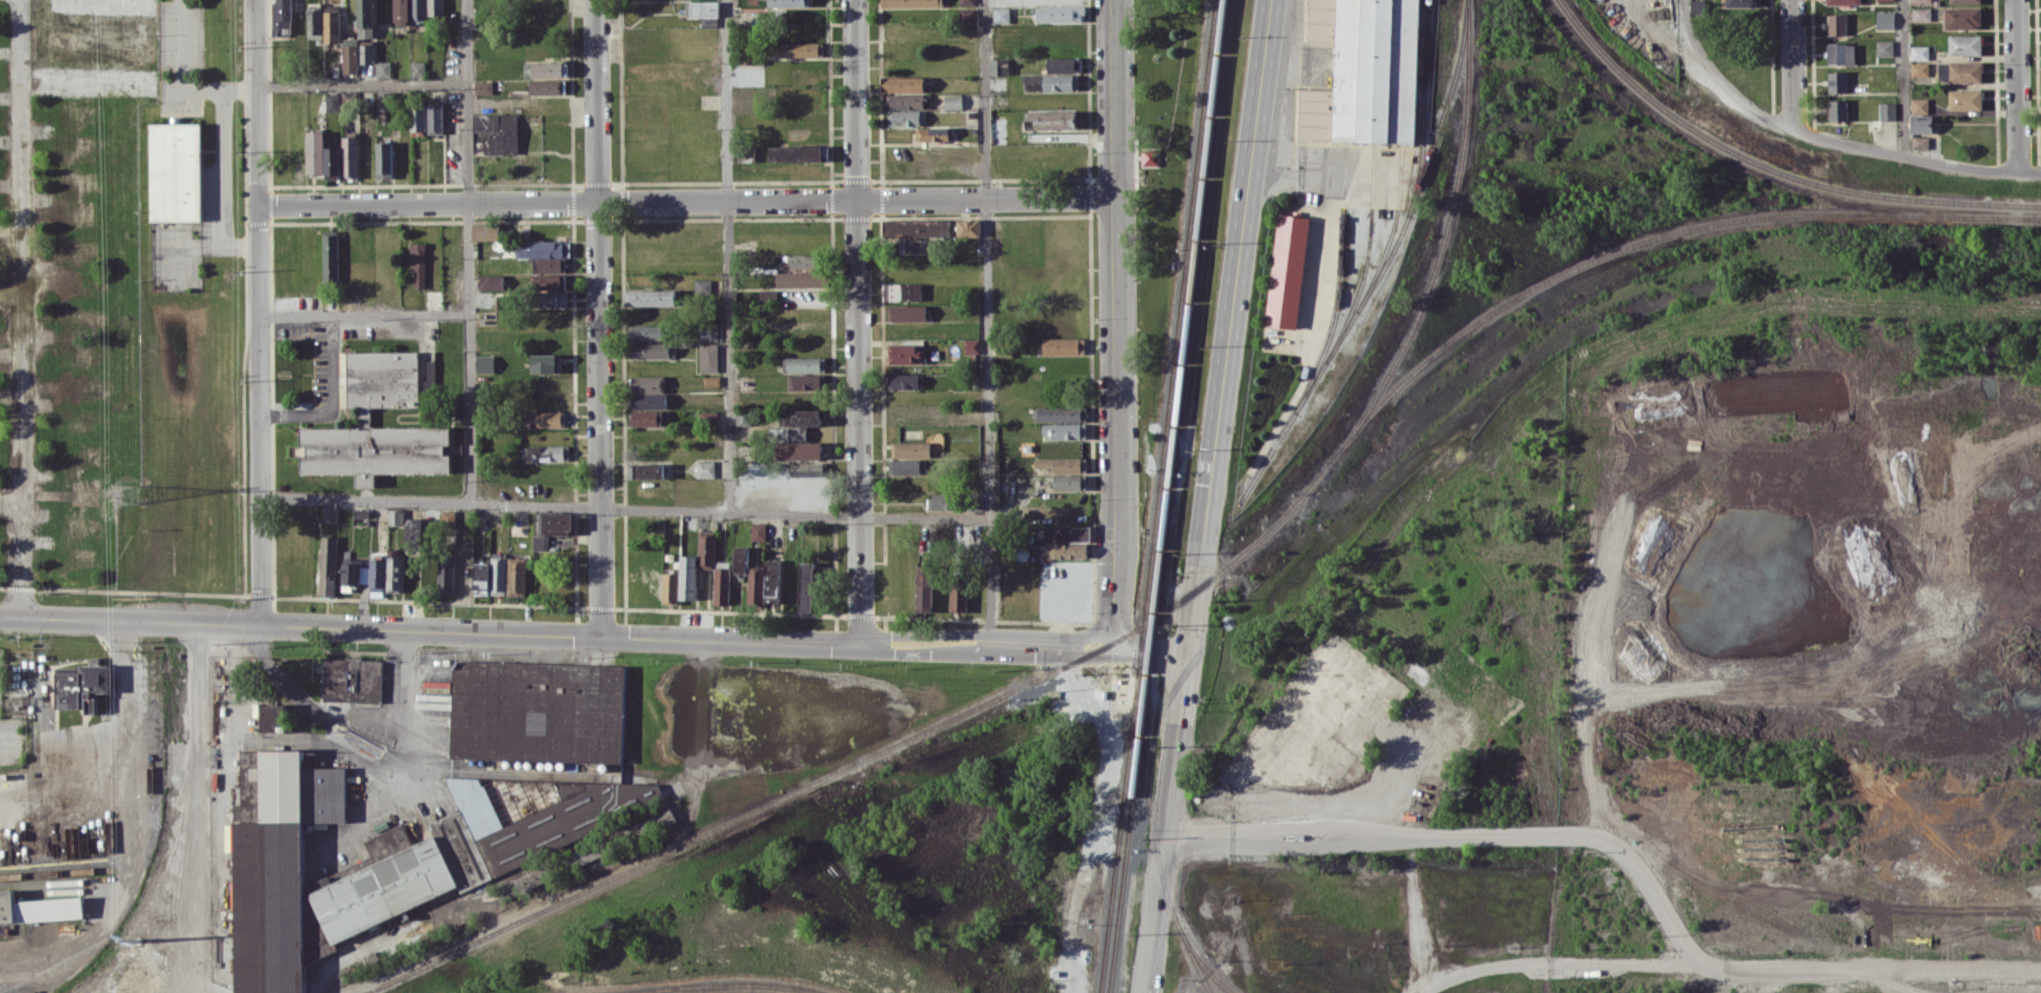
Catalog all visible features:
building: (1877, 0)
building: (1921, 1)
building: (1964, 1)
building: (967, 2)
building: (1843, 2)
building: (789, 3)
building: (911, 3)
building: (1742, 3)
building: (1697, 6)
building: (426, 9)
building: (703, 9)
building: (402, 12)
building: (1001, 14)
building: (1060, 14)
building: (1920, 14)
building: (283, 16)
building: (968, 16)
building: (1962, 17)
building: (366, 18)
building: (1884, 19)
building: (315, 23)
building: (1836, 24)
building: (332, 26)
building: (1964, 44)
building: (1884, 47)
building: (797, 49)
building: (1919, 52)
building: (366, 53)
building: (1840, 53)
building: (350, 55)
building: (1063, 64)
road: (1792, 64)
building: (999, 66)
building: (383, 69)
building: (418, 69)
building: (544, 69)
building: (1919, 69)
building: (1366, 71)
railway: (1374, 71)
railway: (1403, 71)
building: (1959, 72)
road: (1903, 78)
road: (1719, 79)
building: (1837, 81)
building: (1051, 82)
road: (180, 83)
building: (903, 83)
road: (362, 84)
road: (85, 85)
building: (483, 86)
building: (547, 86)
road: (2017, 86)
building: (1964, 99)
road: (1113, 100)
building: (904, 101)
building: (953, 101)
building: (333, 102)
building: (1919, 104)
railway: (1422, 108)
building: (1837, 109)
building: (1886, 111)
building: (907, 116)
building: (417, 117)
building: (435, 118)
building: (1051, 120)
building: (1920, 123)
building: (496, 133)
building: (932, 133)
building: (1920, 141)
building: (315, 152)
building: (798, 153)
building: (350, 156)
building: (1149, 157)
road: (1904, 157)
building: (384, 159)
building: (333, 162)
railway: (1768, 169)
building: (177, 170)
road: (2030, 172)
road: (222, 186)
road: (686, 202)
building: (916, 227)
building: (968, 227)
railway: (1390, 228)
building: (486, 231)
railway: (1646, 242)
building: (915, 246)
road: (1114, 248)
railway: (1441, 248)
road: (469, 251)
building: (331, 254)
building: (547, 254)
railway: (1365, 255)
road: (727, 256)
building: (803, 261)
building: (418, 263)
railway: (1384, 264)
building: (1288, 266)
building: (801, 279)
building: (491, 281)
building: (549, 281)
building: (309, 282)
building: (703, 286)
building: (902, 291)
road: (11, 293)
building: (650, 297)
building: (552, 299)
road: (23, 308)
road: (259, 311)
building: (906, 312)
road: (364, 314)
railway: (1334, 314)
road: (599, 318)
road: (856, 322)
road: (988, 322)
road: (1229, 326)
building: (649, 332)
building: (707, 333)
building: (1063, 345)
building: (971, 346)
building: (653, 350)
building: (906, 353)
building: (708, 357)
building: (298, 363)
building: (485, 363)
building: (546, 363)
building: (804, 364)
building: (712, 380)
building: (905, 380)
building: (804, 381)
building: (300, 383)
building: (648, 392)
road: (11, 399)
road: (331, 400)
building: (1059, 413)
building: (709, 415)
building: (366, 416)
building: (646, 417)
building: (743, 417)
building: (545, 418)
building: (796, 424)
building: (1064, 430)
road: (1113, 435)
building: (910, 449)
building: (801, 450)
building: (545, 452)
building: (1062, 464)
building: (906, 466)
building: (705, 468)
building: (807, 469)
building: (646, 470)
building: (1070, 482)
railway: (1157, 496)
railway: (1166, 496)
power tower: (130, 498)
building: (941, 501)
road: (11, 502)
road: (625, 509)
building: (361, 512)
building: (330, 514)
building: (396, 516)
building: (448, 518)
building: (552, 528)
railway: (1175, 529)
building: (758, 531)
building: (413, 533)
building: (1067, 541)
building: (740, 559)
building: (697, 564)
building: (328, 565)
building: (394, 574)
building: (367, 575)
building: (445, 575)
building: (481, 575)
building: (498, 575)
building: (517, 576)
building: (772, 581)
building: (721, 585)
building: (755, 585)
building: (807, 586)
building: (670, 588)
building: (924, 588)
building: (959, 595)
road: (1113, 607)
road: (430, 629)
road: (927, 632)
road: (1086, 632)
road: (1150, 648)
road: (1053, 649)
road: (926, 653)
traffic signals: (1188, 653)
building: (352, 679)
building: (82, 684)
building: (537, 709)
road: (236, 710)
building: (274, 716)
road: (105, 738)
road: (696, 740)
road: (408, 747)
railway: (864, 759)
building: (543, 813)
road: (1164, 822)
building: (649, 823)
road: (1470, 835)
railway: (1153, 837)
building: (277, 863)
railway: (56, 872)
building: (402, 877)
building: (38, 909)
railway: (1199, 961)
road: (1732, 976)
railway: (719, 982)
power tower: (135, 983)
railway: (1229, 991)

